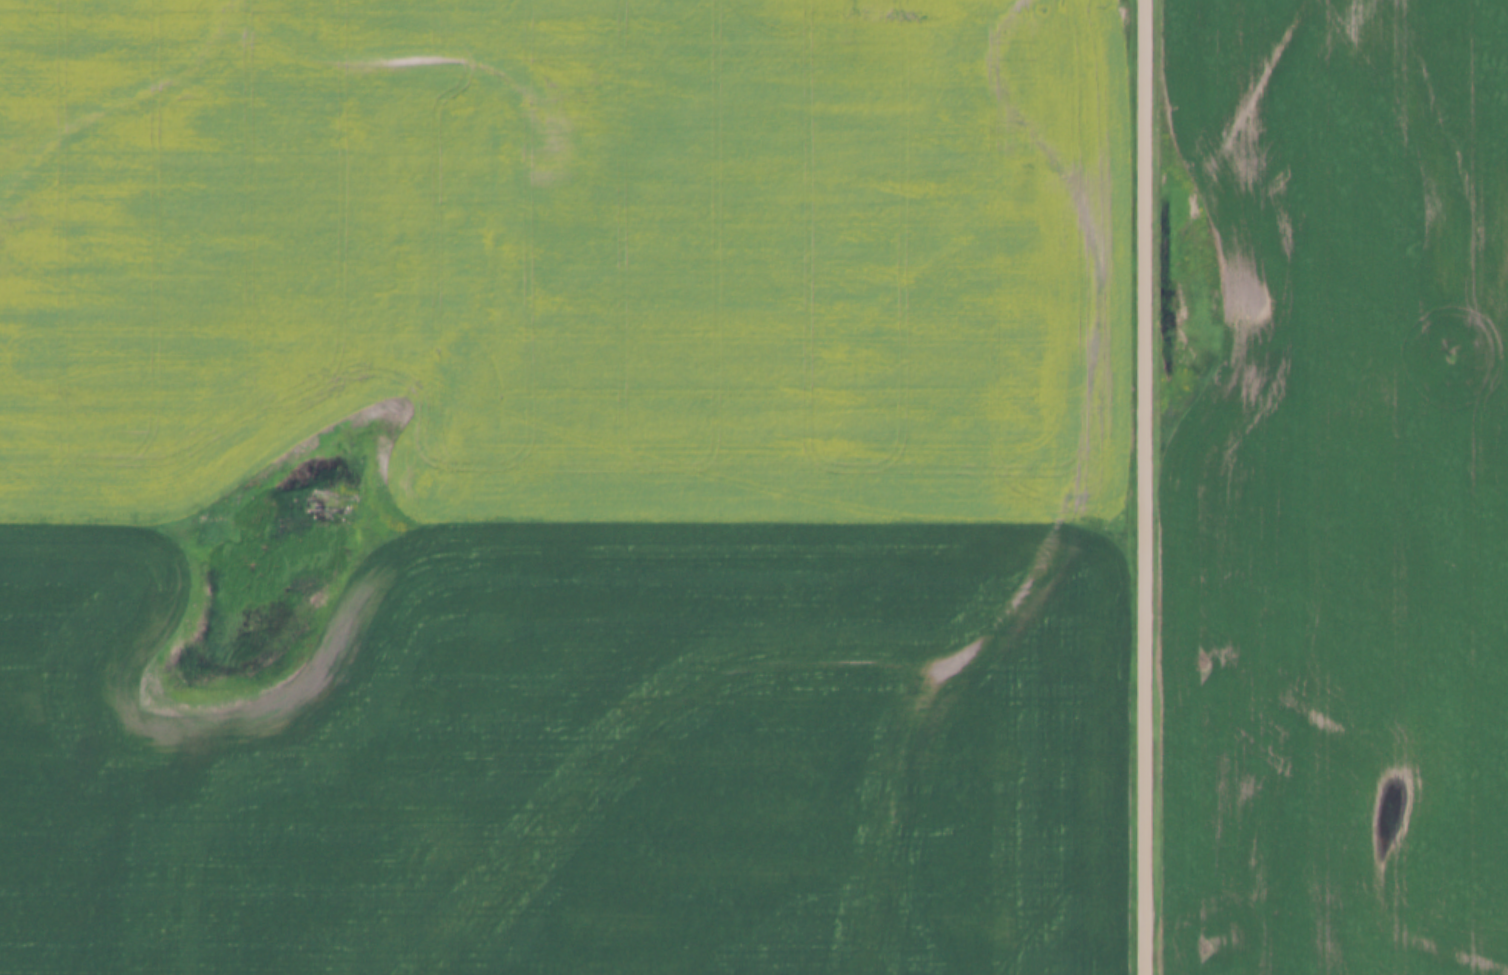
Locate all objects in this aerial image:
road: (1152, 487)

